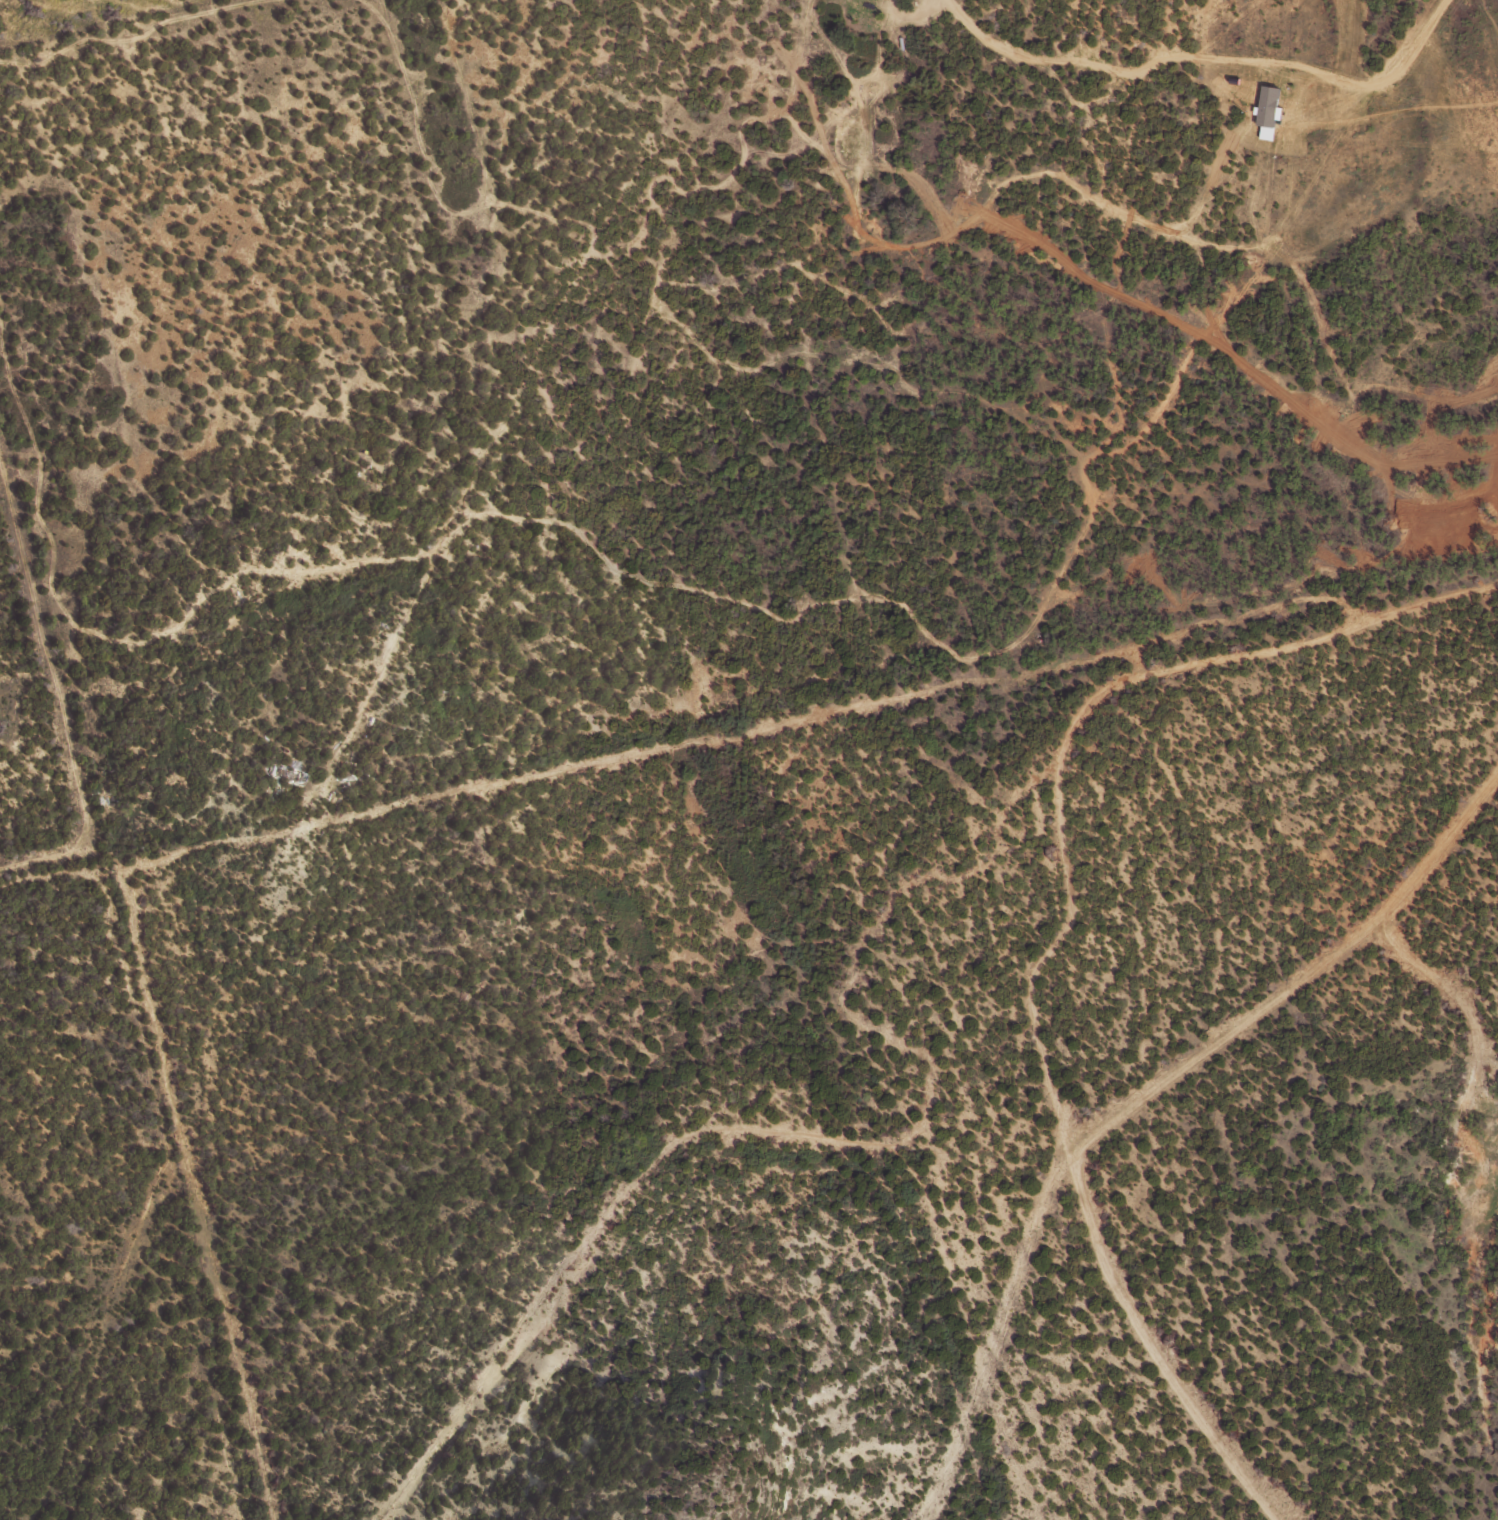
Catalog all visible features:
building: (1269, 106)

